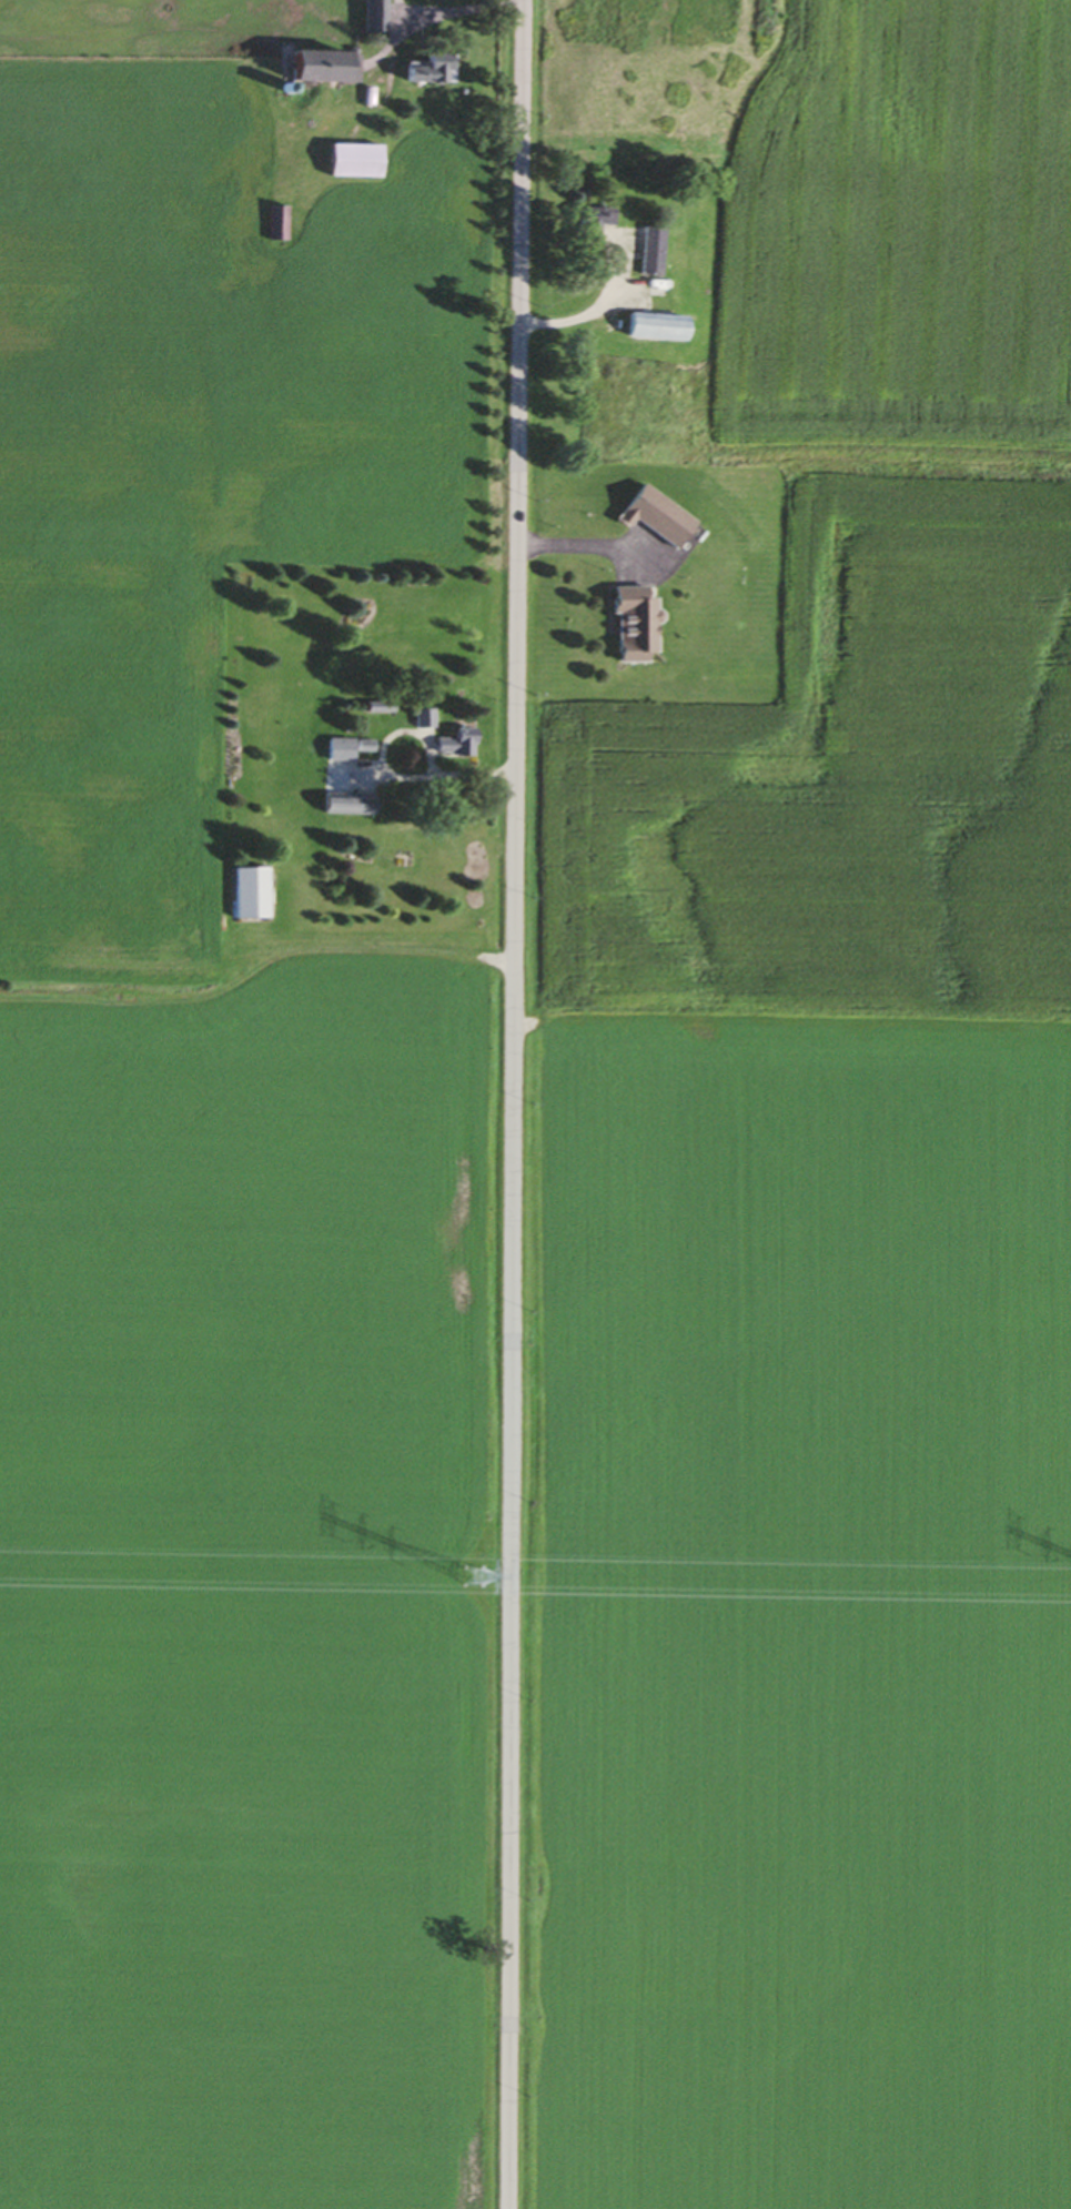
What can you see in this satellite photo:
road: (455, 9)
building: (373, 17)
building: (314, 67)
building: (427, 70)
building: (352, 161)
building: (590, 222)
building: (277, 223)
building: (649, 251)
road: (580, 313)
building: (651, 326)
building: (649, 517)
road: (586, 543)
building: (628, 624)
building: (421, 719)
building: (452, 745)
building: (361, 746)
building: (336, 750)
road: (390, 778)
building: (344, 805)
building: (247, 894)
road: (517, 1104)
power tower: (471, 1580)

